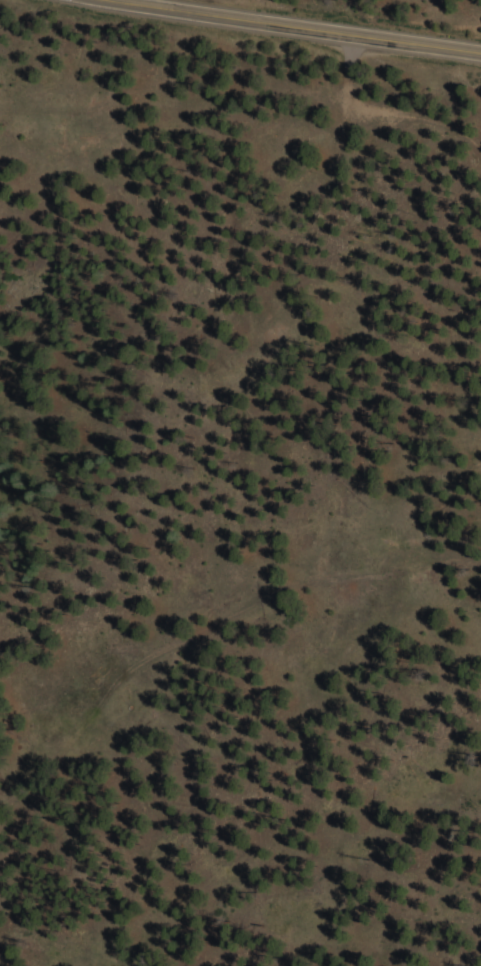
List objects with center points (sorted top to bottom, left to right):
road: (301, 26)
road: (328, 80)

